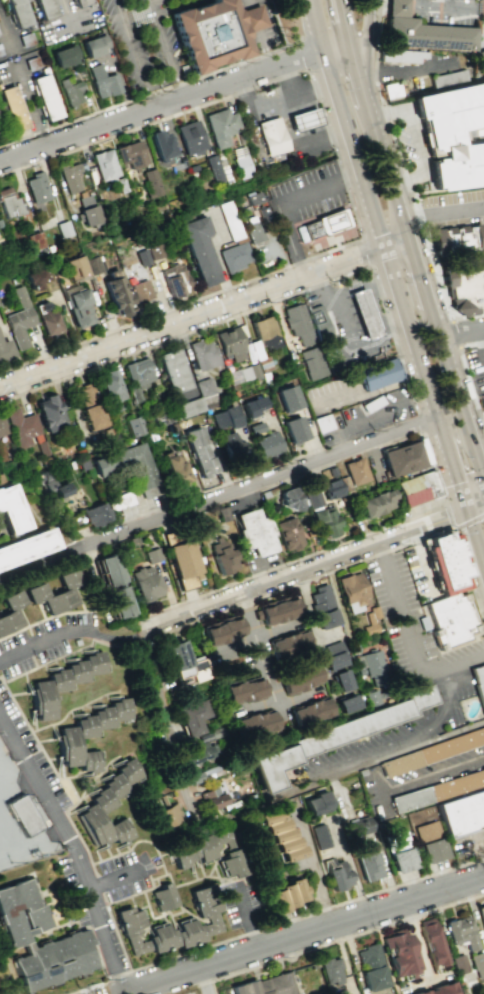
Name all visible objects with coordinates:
building: (420, 0)
building: (79, 2)
road: (154, 3)
road: (245, 4)
road: (377, 5)
road: (396, 6)
road: (173, 7)
road: (445, 7)
building: (44, 8)
building: (17, 12)
parking lot: (448, 12)
road: (136, 14)
road: (251, 18)
road: (277, 22)
building: (422, 31)
building: (212, 32)
road: (358, 39)
parking lot: (142, 43)
building: (93, 46)
road: (351, 46)
road: (365, 46)
road: (262, 48)
road: (164, 49)
road: (302, 53)
road: (133, 54)
building: (64, 56)
building: (400, 56)
building: (480, 58)
road: (418, 71)
building: (447, 77)
building: (103, 81)
building: (390, 91)
building: (71, 92)
road: (151, 92)
building: (45, 97)
parking lot: (276, 98)
road: (174, 102)
building: (12, 108)
building: (303, 119)
road: (373, 120)
building: (221, 126)
building: (452, 135)
building: (271, 136)
building: (190, 137)
road: (414, 142)
building: (162, 148)
building: (130, 154)
road: (400, 161)
building: (104, 164)
building: (215, 166)
building: (245, 166)
road: (344, 181)
building: (151, 182)
building: (37, 188)
parking lot: (306, 193)
road: (394, 194)
building: (255, 197)
road: (282, 203)
building: (9, 204)
road: (363, 206)
parking lot: (453, 208)
building: (87, 210)
road: (442, 211)
building: (230, 220)
building: (327, 222)
building: (63, 228)
building: (253, 232)
building: (457, 237)
building: (34, 240)
building: (199, 249)
building: (154, 251)
road: (366, 252)
building: (234, 256)
building: (143, 257)
building: (93, 265)
building: (75, 267)
building: (38, 277)
building: (175, 279)
road: (423, 287)
building: (465, 287)
building: (140, 291)
building: (116, 292)
building: (77, 305)
road: (262, 305)
road: (203, 312)
building: (362, 314)
road: (467, 316)
building: (46, 317)
building: (19, 319)
road: (461, 331)
road: (454, 332)
building: (305, 336)
building: (230, 344)
building: (5, 350)
building: (203, 353)
parking lot: (354, 354)
parking lot: (475, 367)
building: (173, 370)
building: (245, 373)
building: (378, 373)
building: (138, 376)
road: (466, 376)
building: (112, 385)
building: (205, 386)
building: (288, 398)
building: (481, 401)
road: (461, 404)
building: (253, 406)
building: (90, 407)
building: (190, 407)
building: (49, 413)
building: (225, 418)
road: (419, 422)
building: (322, 423)
building: (135, 425)
building: (2, 427)
building: (21, 427)
building: (294, 429)
building: (230, 443)
building: (268, 444)
road: (426, 444)
road: (480, 449)
building: (199, 451)
road: (447, 457)
building: (402, 459)
building: (175, 467)
building: (142, 471)
building: (355, 471)
road: (258, 483)
building: (332, 488)
building: (416, 488)
building: (312, 497)
building: (289, 498)
building: (119, 500)
building: (377, 503)
traffic signals: (464, 506)
building: (13, 507)
building: (95, 514)
building: (326, 523)
road: (454, 527)
building: (255, 530)
building: (287, 532)
road: (414, 536)
road: (473, 538)
building: (27, 546)
building: (152, 555)
building: (223, 556)
road: (295, 559)
road: (41, 560)
building: (444, 562)
building: (185, 563)
road: (314, 567)
building: (110, 568)
road: (423, 568)
parking lot: (419, 573)
road: (468, 579)
building: (146, 583)
road: (293, 584)
building: (354, 588)
building: (56, 592)
building: (120, 601)
building: (324, 606)
building: (10, 611)
building: (279, 611)
building: (373, 614)
parking lot: (408, 623)
building: (450, 623)
building: (371, 629)
road: (65, 632)
building: (223, 632)
road: (255, 637)
road: (409, 640)
building: (290, 645)
road: (259, 649)
road: (69, 653)
building: (335, 655)
building: (94, 662)
building: (185, 662)
building: (376, 666)
building: (76, 672)
building: (300, 678)
building: (58, 680)
building: (344, 680)
building: (478, 684)
building: (254, 689)
building: (234, 692)
building: (374, 697)
road: (296, 699)
building: (41, 700)
road: (260, 704)
building: (349, 704)
road: (71, 708)
building: (119, 709)
park: (472, 709)
building: (311, 712)
road: (442, 712)
building: (193, 717)
building: (102, 718)
building: (362, 723)
building: (256, 725)
building: (84, 726)
parking lot: (400, 727)
road: (36, 740)
building: (66, 746)
building: (203, 752)
building: (436, 752)
road: (386, 758)
building: (88, 761)
building: (270, 767)
road: (433, 772)
building: (202, 774)
road: (179, 777)
parking lot: (414, 780)
building: (214, 796)
building: (448, 803)
building: (317, 804)
building: (108, 807)
building: (22, 815)
building: (168, 816)
building: (360, 826)
power substation: (20, 827)
building: (320, 836)
building: (227, 839)
building: (430, 841)
road: (481, 841)
parking lot: (470, 845)
building: (193, 851)
building: (399, 851)
road: (310, 862)
building: (234, 864)
building: (368, 865)
building: (336, 873)
road: (115, 878)
building: (285, 895)
building: (165, 897)
road: (95, 902)
building: (206, 908)
building: (481, 915)
road: (246, 917)
road: (342, 919)
road: (274, 924)
building: (461, 932)
building: (22, 933)
building: (155, 934)
road: (345, 936)
road: (418, 939)
building: (431, 941)
building: (399, 952)
building: (460, 964)
building: (478, 964)
building: (371, 967)
park: (9, 968)
building: (331, 971)
building: (269, 985)
road: (212, 987)
building: (440, 989)
parking lot: (191, 992)
building: (339, 992)

